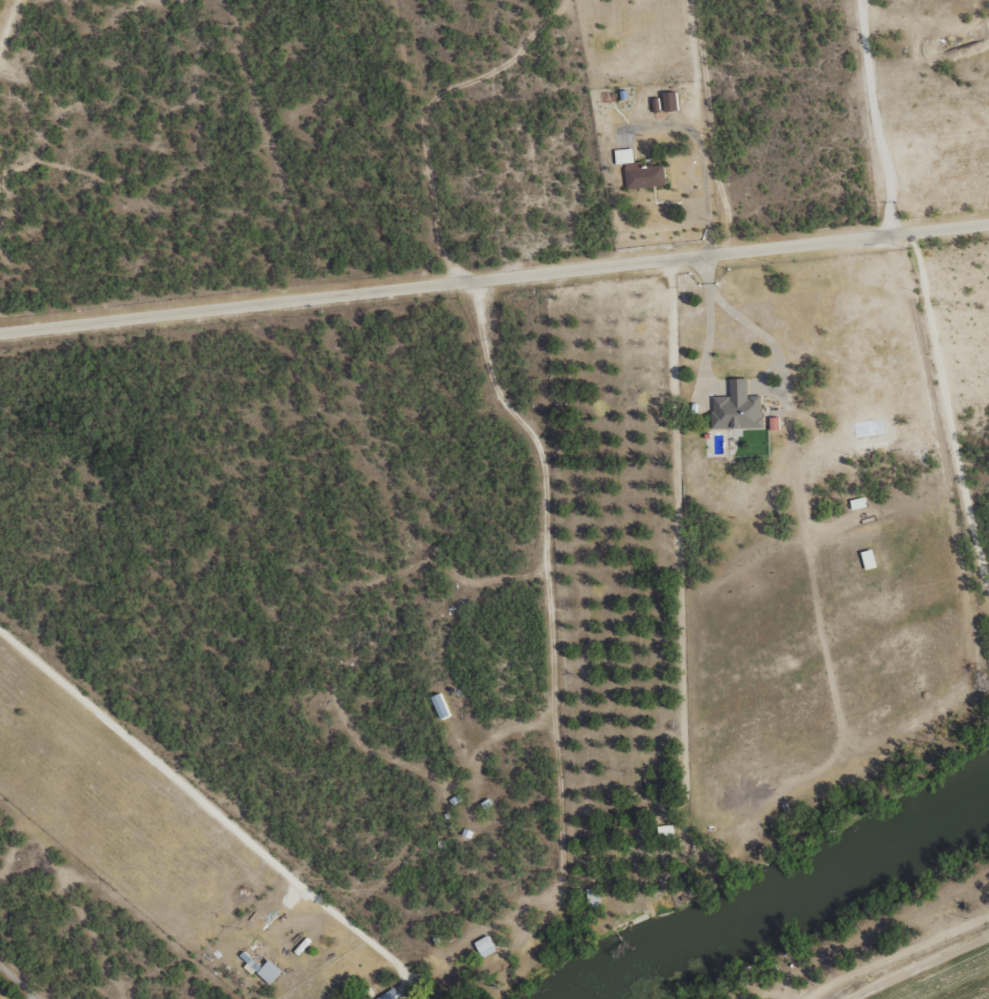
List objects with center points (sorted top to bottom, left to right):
building: (670, 101)
road: (853, 106)
road: (239, 138)
building: (624, 156)
building: (644, 175)
road: (493, 251)
building: (736, 408)
building: (857, 503)
building: (868, 559)
building: (440, 706)
building: (666, 832)
building: (593, 898)
building: (485, 947)
building: (261, 960)
road: (942, 974)
building: (391, 996)

